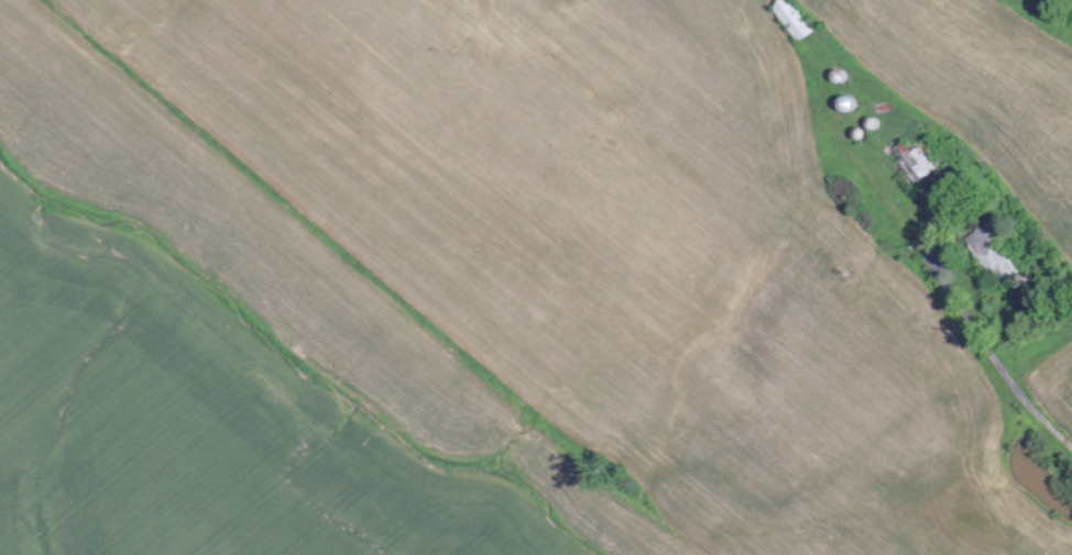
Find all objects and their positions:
building: (799, 20)
building: (999, 255)

